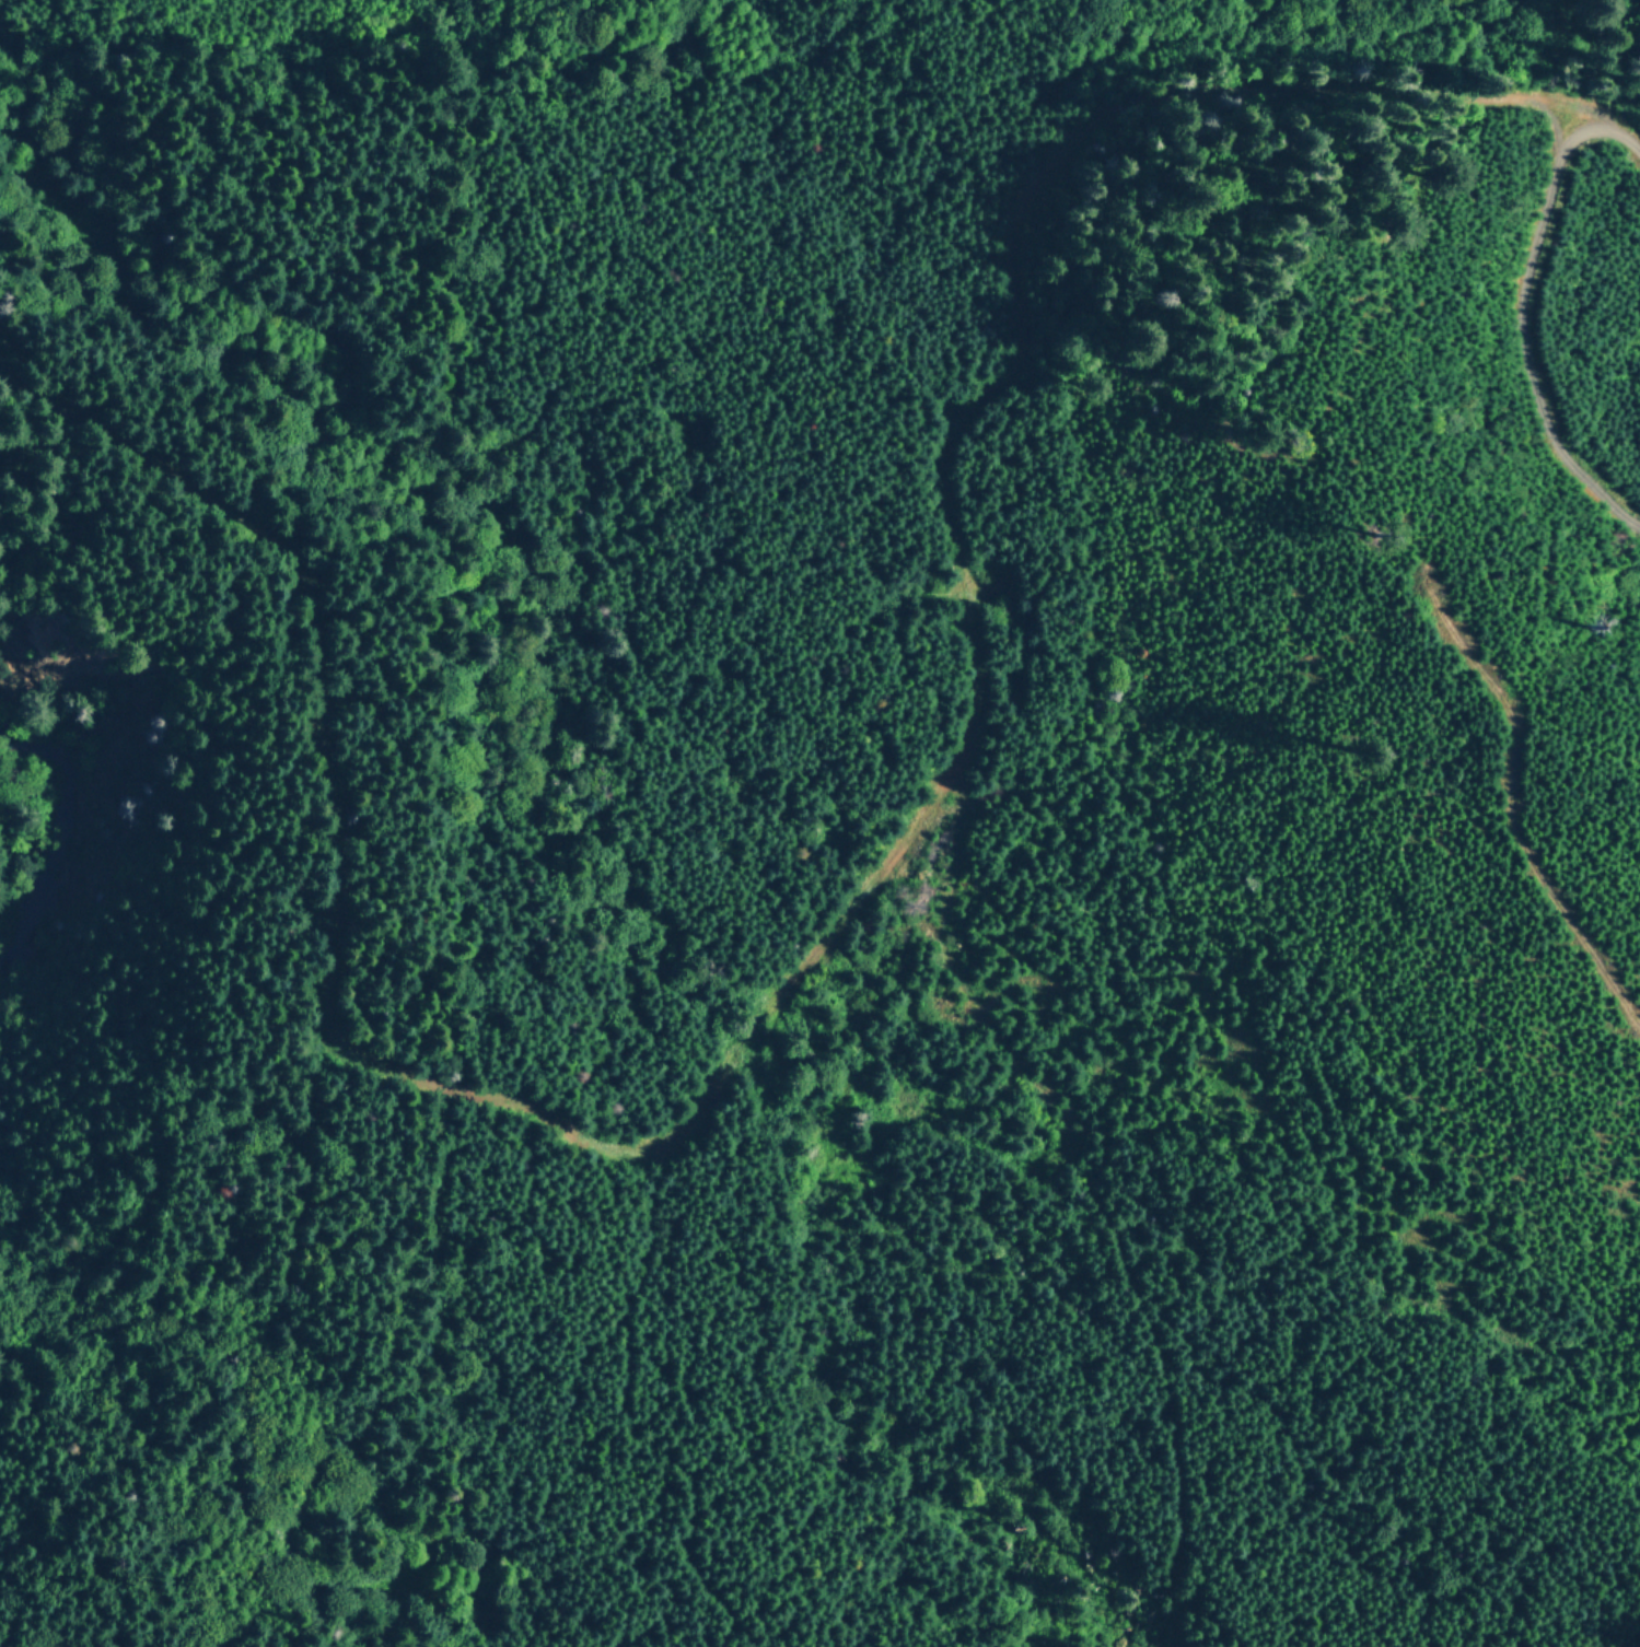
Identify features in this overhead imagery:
road: (1528, 288)
river: (95, 783)
road: (933, 806)
road: (1077, 1242)
road: (667, 1322)
road: (299, 1343)

